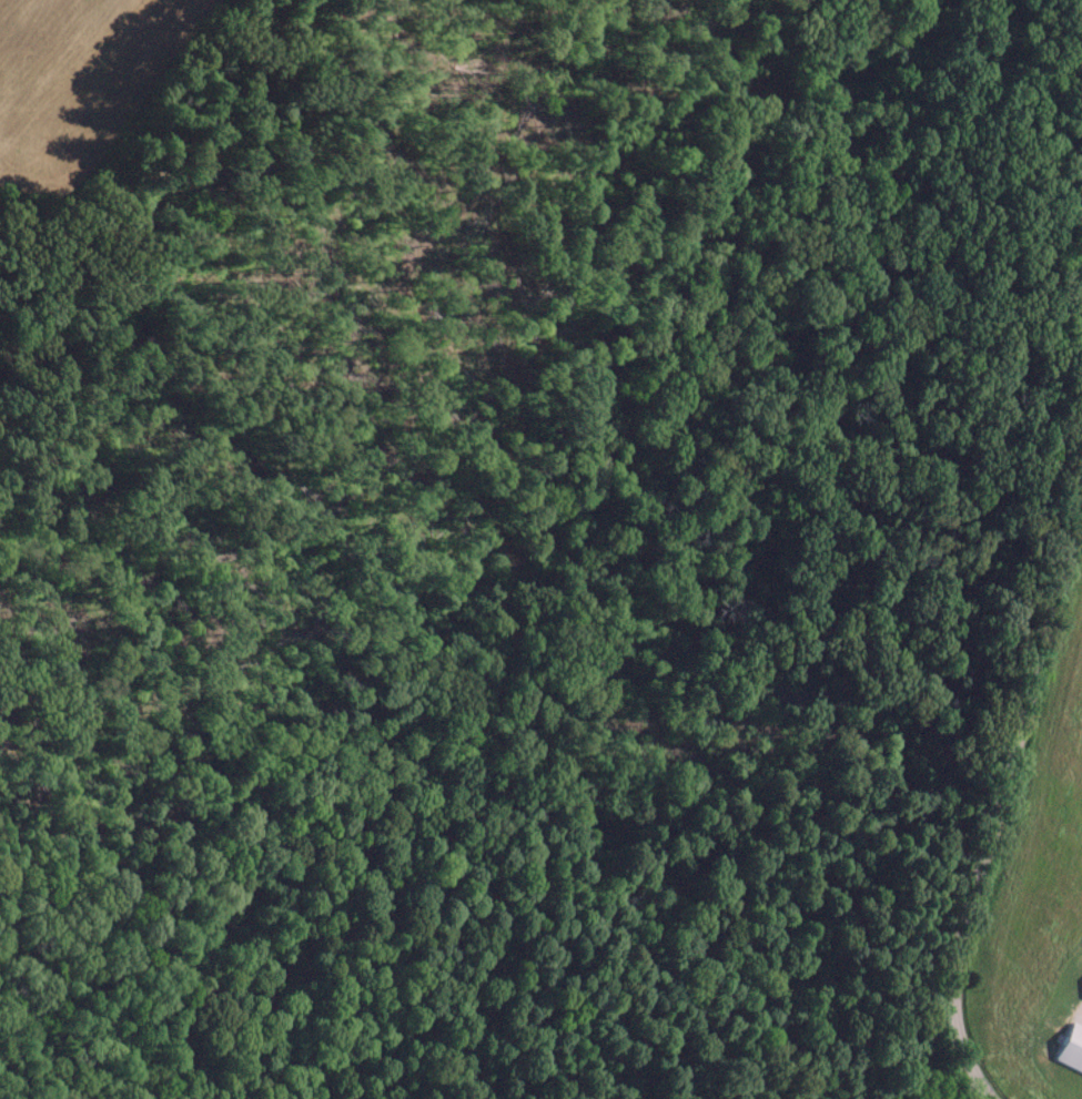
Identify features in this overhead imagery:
road: (999, 807)

